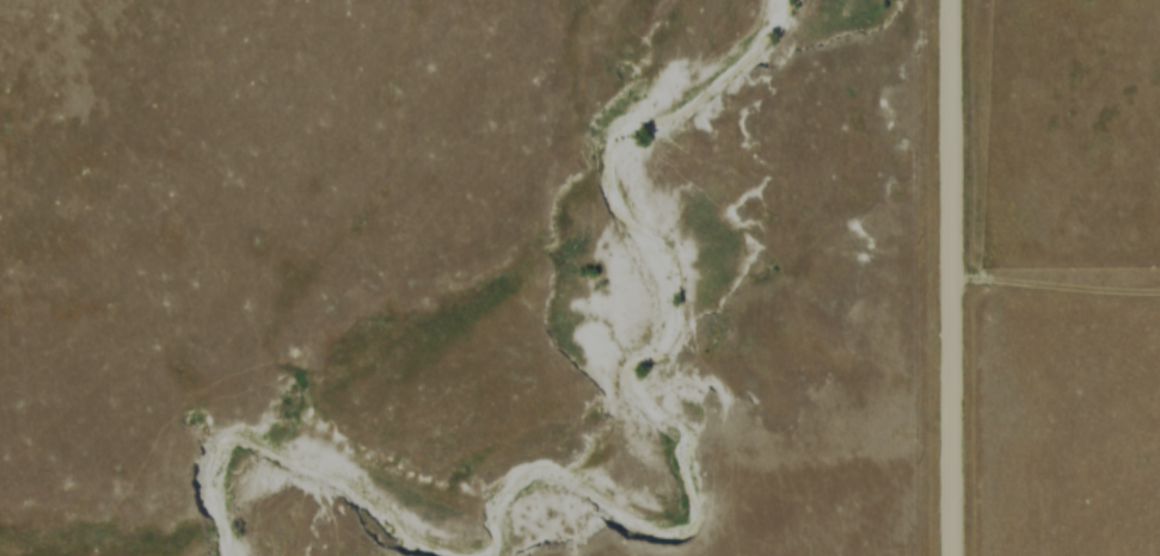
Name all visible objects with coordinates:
road: (946, 277)

